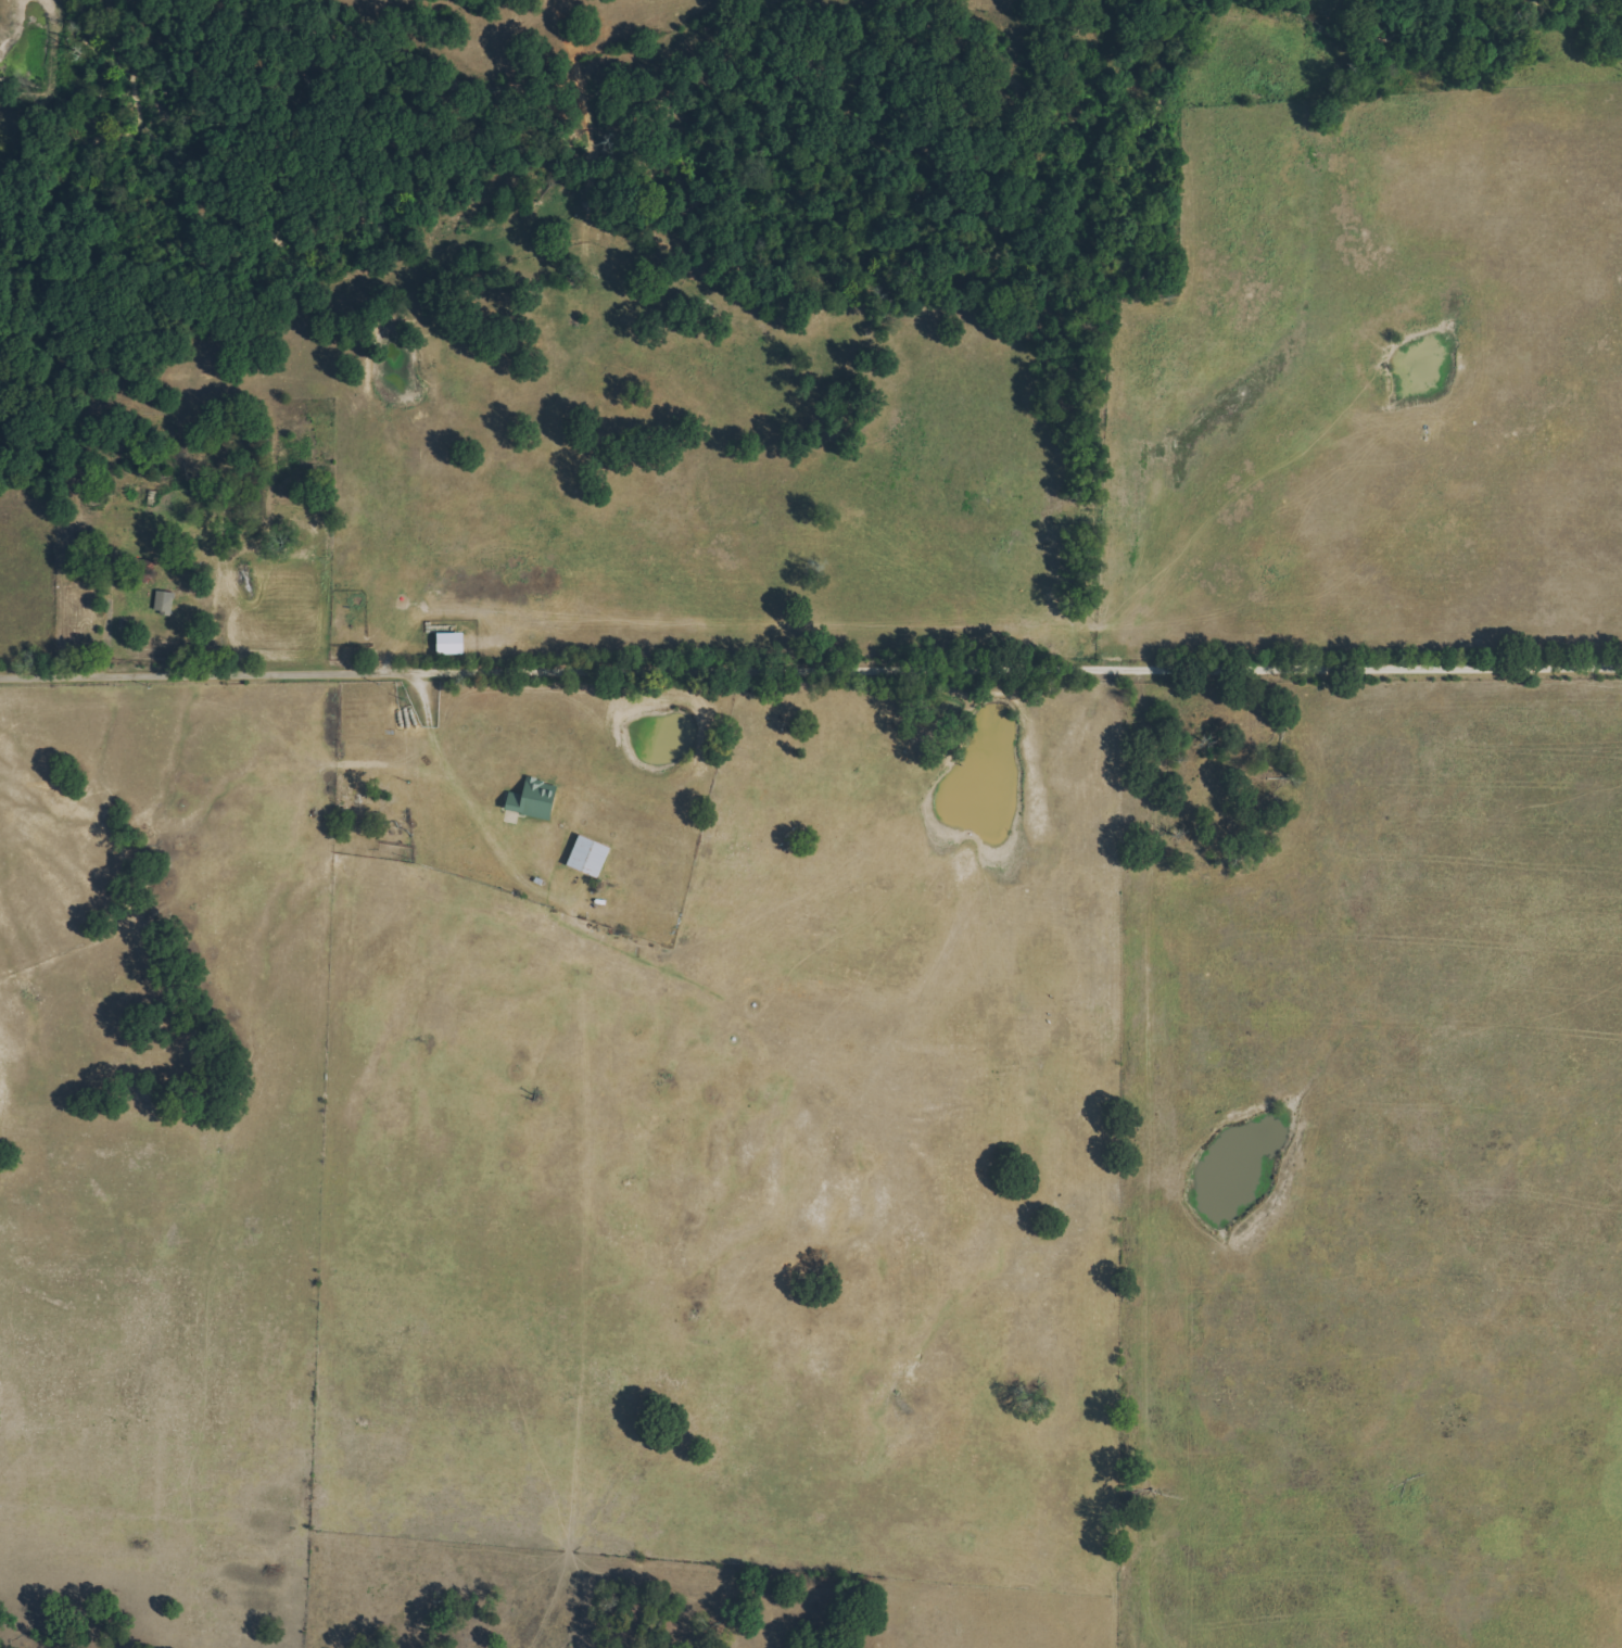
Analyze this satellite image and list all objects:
building: (167, 601)
building: (456, 644)
road: (810, 670)
building: (537, 800)
building: (592, 855)

